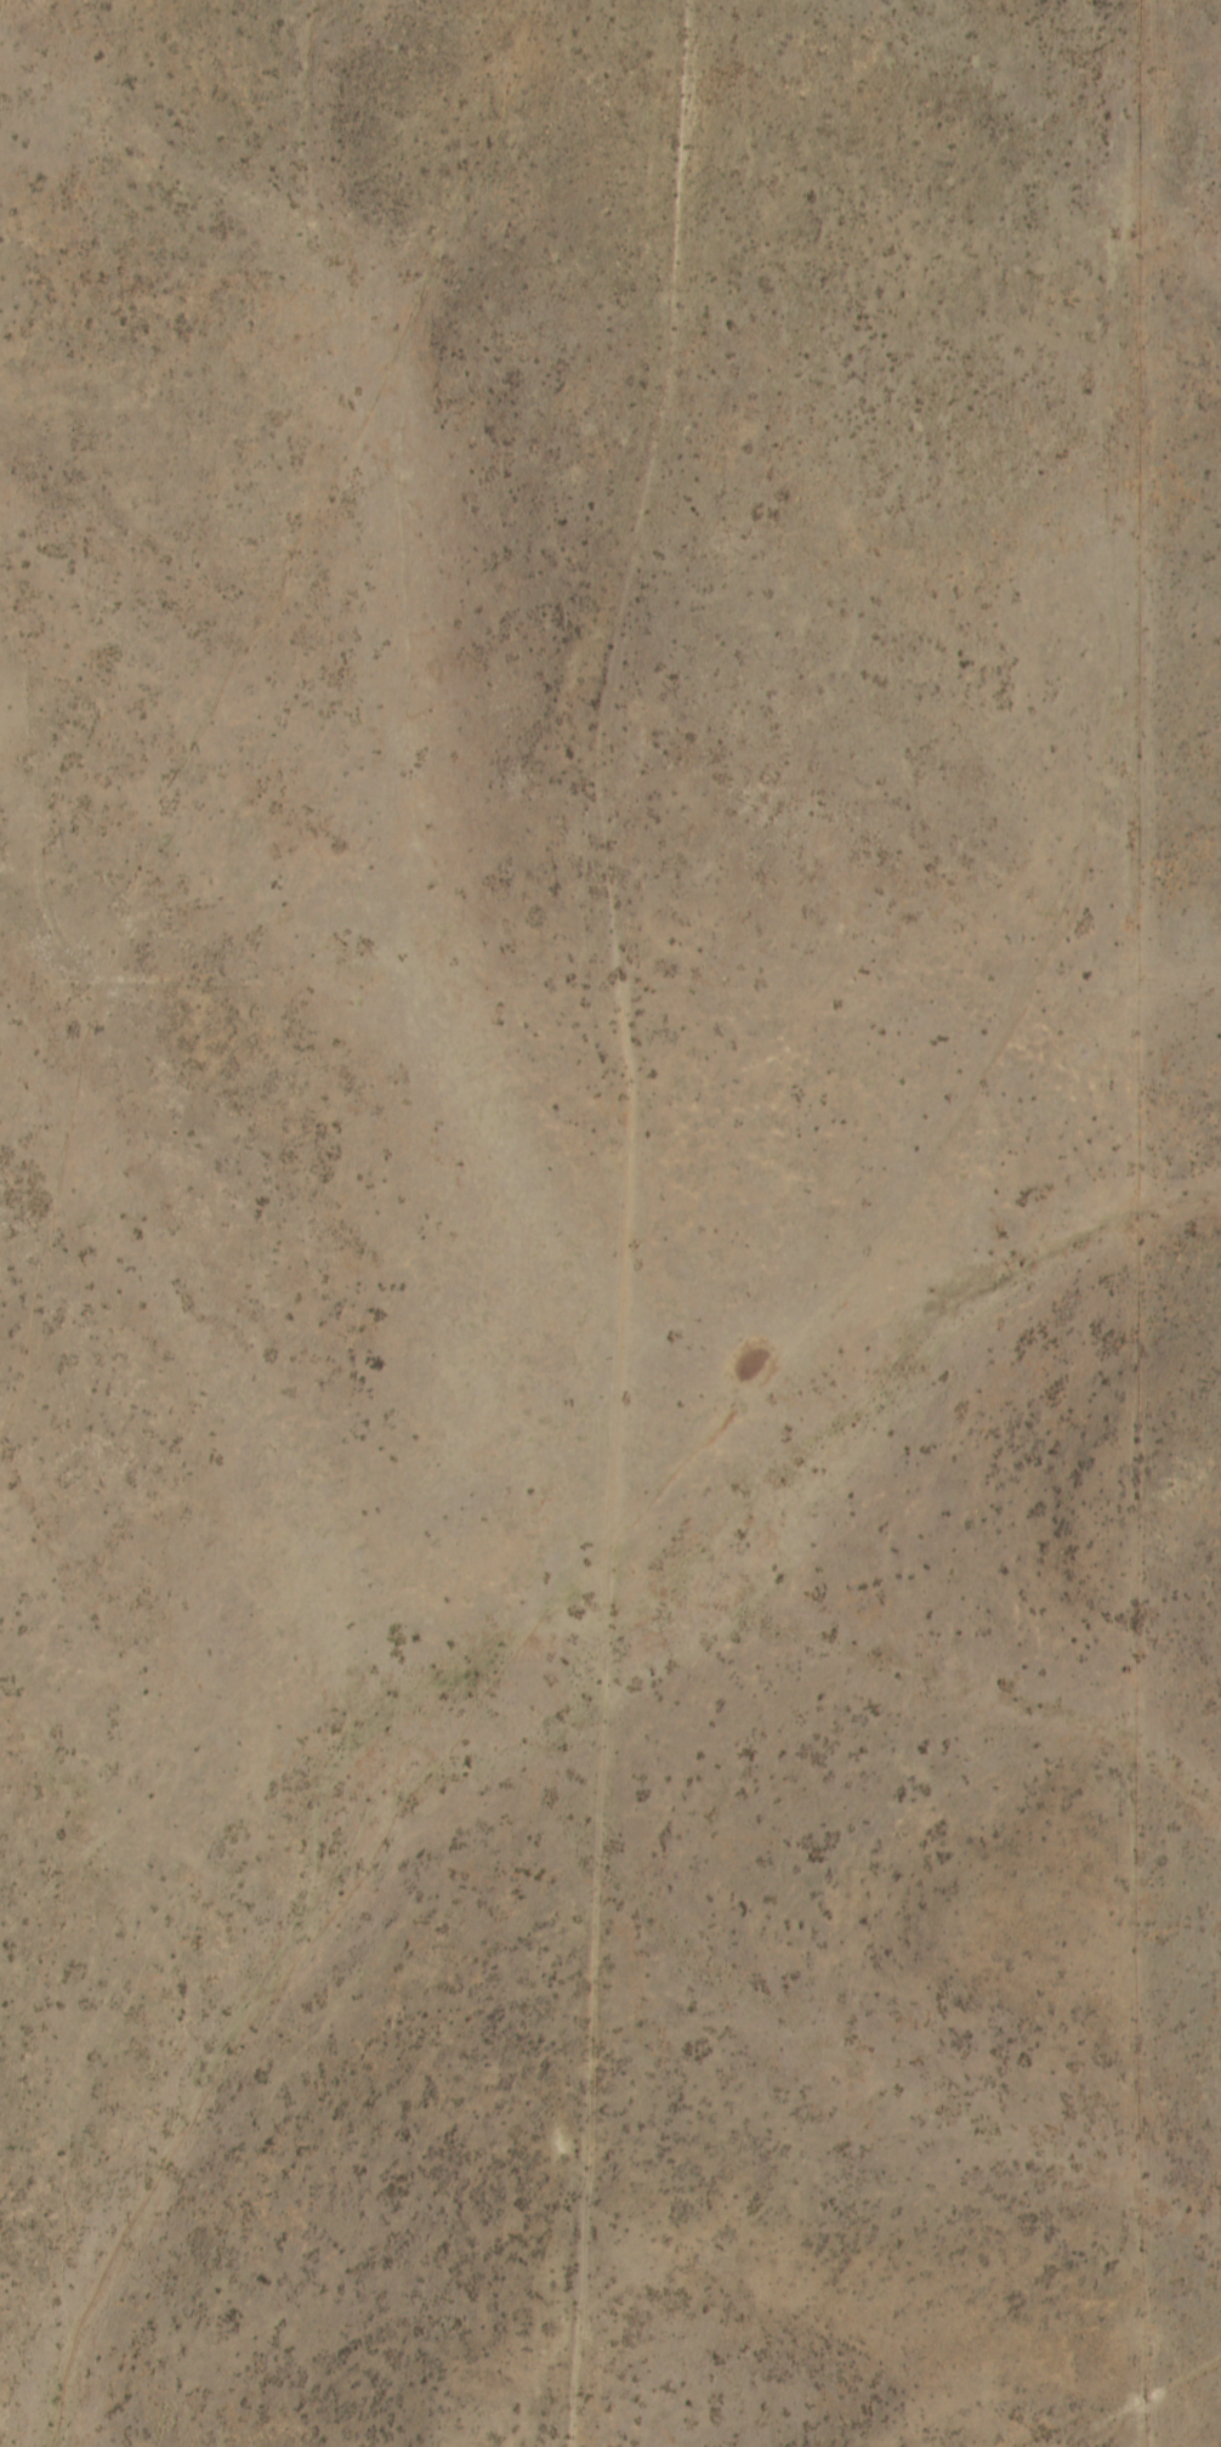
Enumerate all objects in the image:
road: (1124, 2379)

